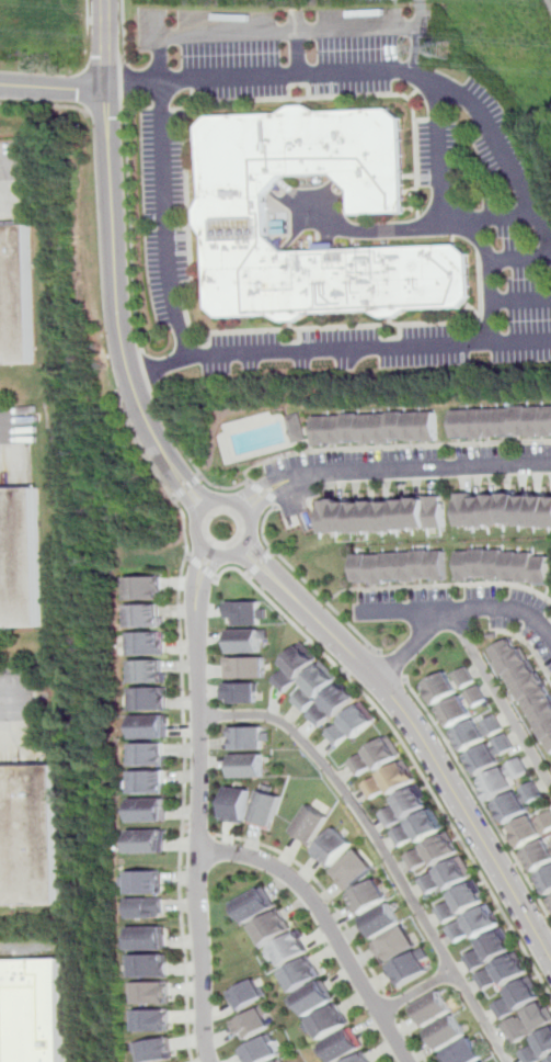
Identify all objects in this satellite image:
road: (122, 16)
road: (87, 18)
road: (95, 20)
road: (268, 30)
power tower: (452, 43)
road: (104, 44)
road: (125, 47)
road: (418, 48)
road: (299, 52)
road: (371, 71)
road: (53, 87)
road: (325, 98)
road: (118, 108)
road: (43, 109)
road: (437, 149)
road: (14, 160)
road: (309, 211)
building: (230, 213)
road: (168, 218)
road: (133, 227)
road: (363, 233)
road: (481, 240)
road: (519, 258)
building: (18, 298)
road: (520, 300)
road: (116, 309)
road: (244, 331)
road: (338, 348)
road: (147, 370)
road: (16, 420)
building: (502, 422)
building: (398, 427)
building: (413, 427)
building: (428, 427)
building: (295, 429)
building: (353, 429)
building: (368, 429)
building: (383, 429)
building: (337, 430)
building: (322, 431)
road: (187, 456)
road: (391, 470)
road: (250, 483)
road: (186, 486)
road: (265, 493)
building: (504, 510)
building: (382, 513)
road: (246, 543)
building: (21, 563)
road: (262, 564)
building: (425, 564)
building: (440, 565)
building: (505, 565)
building: (395, 566)
building: (410, 566)
road: (203, 568)
building: (364, 568)
building: (380, 569)
road: (305, 581)
building: (145, 587)
road: (439, 587)
road: (456, 609)
road: (402, 611)
building: (246, 612)
building: (145, 614)
building: (244, 640)
building: (147, 643)
road: (528, 645)
road: (381, 653)
building: (243, 667)
building: (294, 667)
building: (148, 669)
road: (391, 669)
building: (448, 685)
building: (314, 687)
building: (527, 688)
building: (240, 691)
road: (14, 694)
building: (148, 698)
road: (500, 698)
building: (333, 704)
building: (462, 705)
road: (181, 716)
building: (353, 724)
building: (149, 726)
building: (478, 732)
road: (421, 733)
building: (248, 737)
road: (409, 752)
building: (149, 754)
building: (490, 754)
building: (376, 756)
building: (245, 766)
building: (505, 779)
building: (390, 780)
building: (150, 781)
road: (480, 796)
building: (518, 802)
building: (237, 803)
road: (200, 805)
building: (406, 805)
building: (266, 807)
building: (151, 810)
building: (311, 824)
building: (531, 826)
building: (420, 827)
road: (206, 834)
building: (28, 837)
building: (152, 840)
building: (334, 847)
road: (382, 848)
building: (433, 851)
building: (539, 857)
building: (353, 870)
building: (447, 875)
building: (152, 881)
building: (547, 882)
road: (321, 885)
building: (368, 896)
building: (460, 902)
building: (254, 904)
building: (153, 907)
building: (381, 920)
building: (473, 924)
road: (329, 926)
building: (271, 928)
building: (153, 937)
building: (395, 945)
building: (288, 950)
building: (489, 950)
building: (154, 965)
building: (410, 967)
building: (502, 972)
building: (300, 975)
road: (416, 992)
building: (157, 993)
building: (248, 995)
road: (388, 996)
building: (517, 997)
building: (313, 998)
road: (392, 1005)
building: (432, 1008)
building: (32, 1010)
building: (157, 1020)
building: (330, 1023)
building: (528, 1023)
building: (252, 1024)
building: (446, 1032)
road: (411, 1037)
building: (341, 1046)
building: (538, 1048)
building: (161, 1050)
building: (262, 1051)
building: (461, 1052)
building: (361, 1059)
building: (279, 1061)
building: (484, 1061)
building: (550, 1061)

